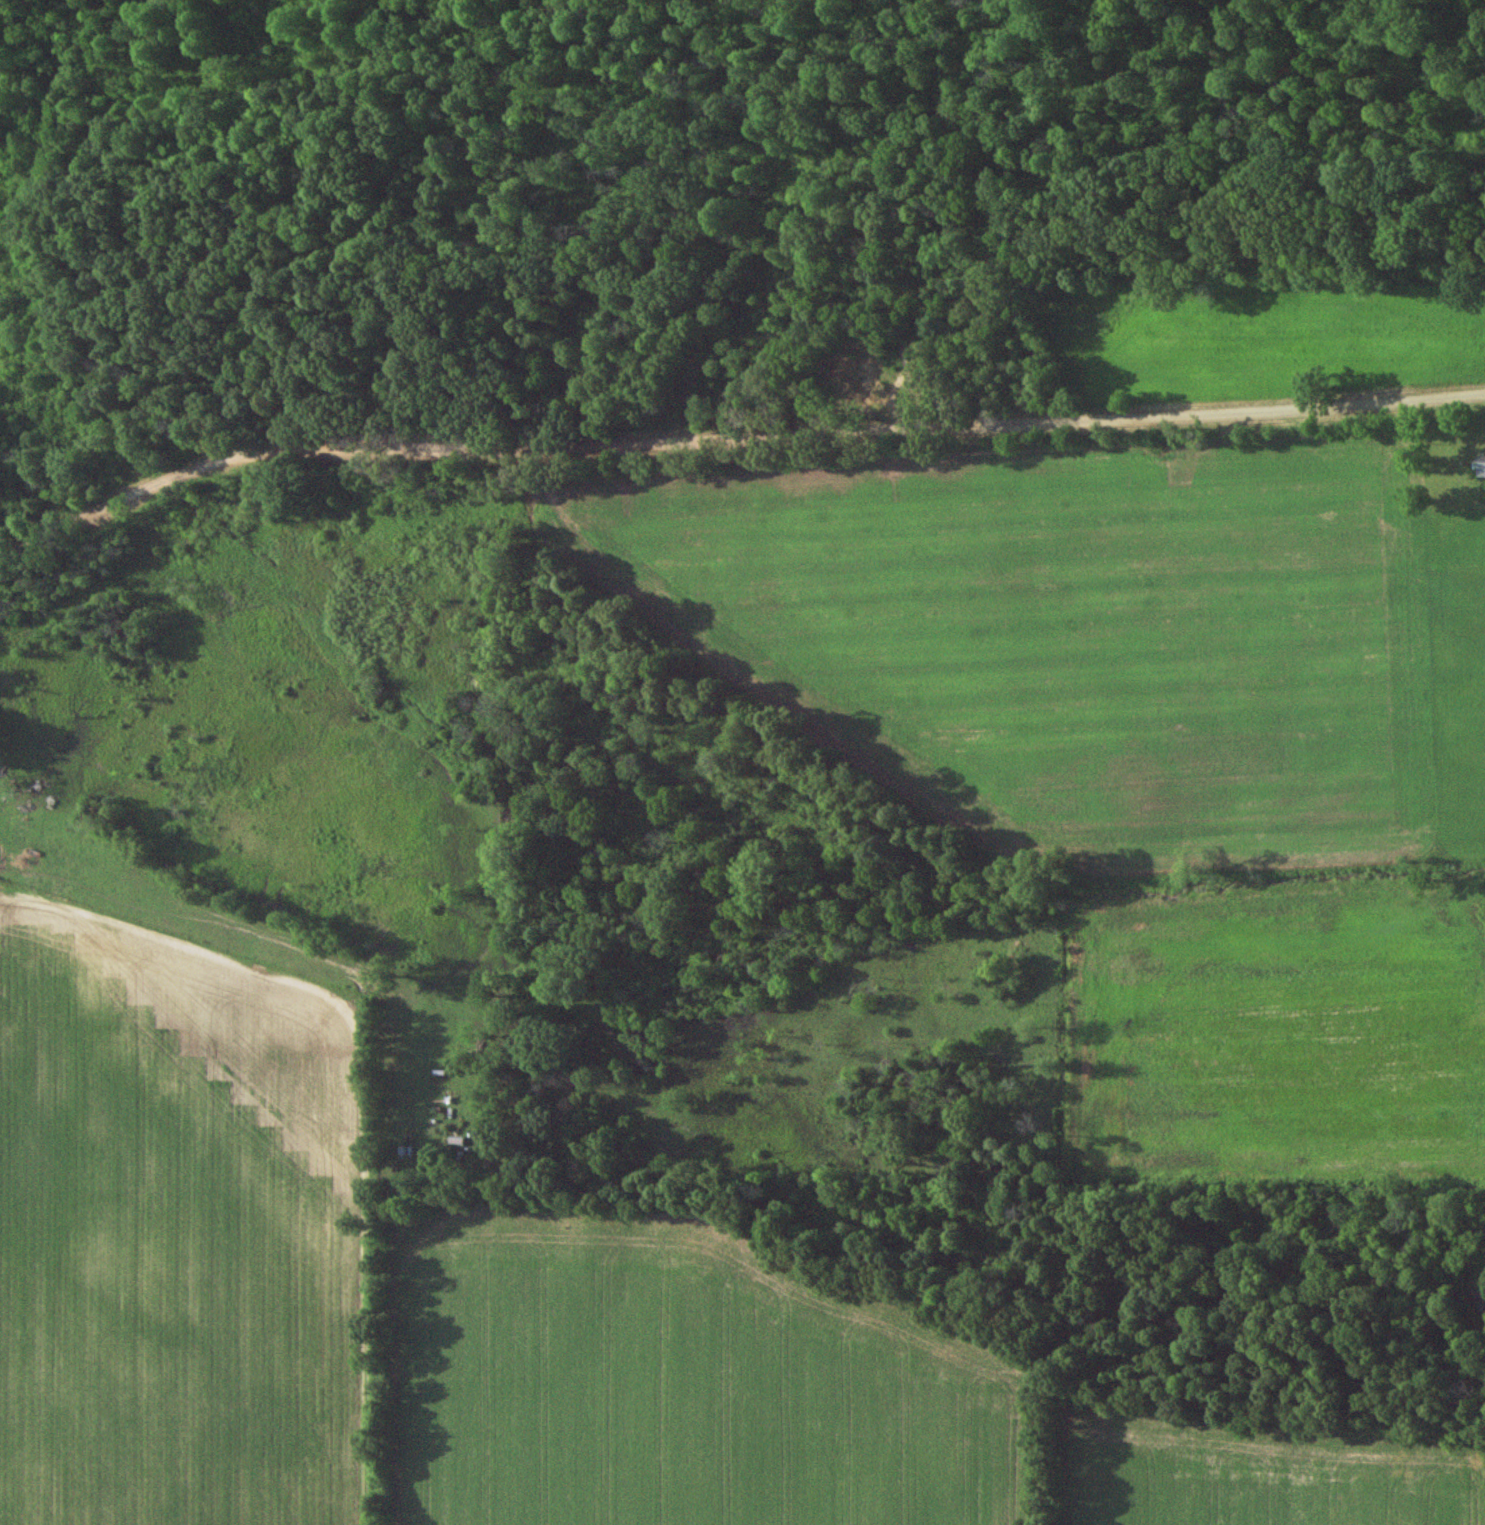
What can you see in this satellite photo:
building: (1482, 338)
road: (733, 437)
building: (1482, 467)

